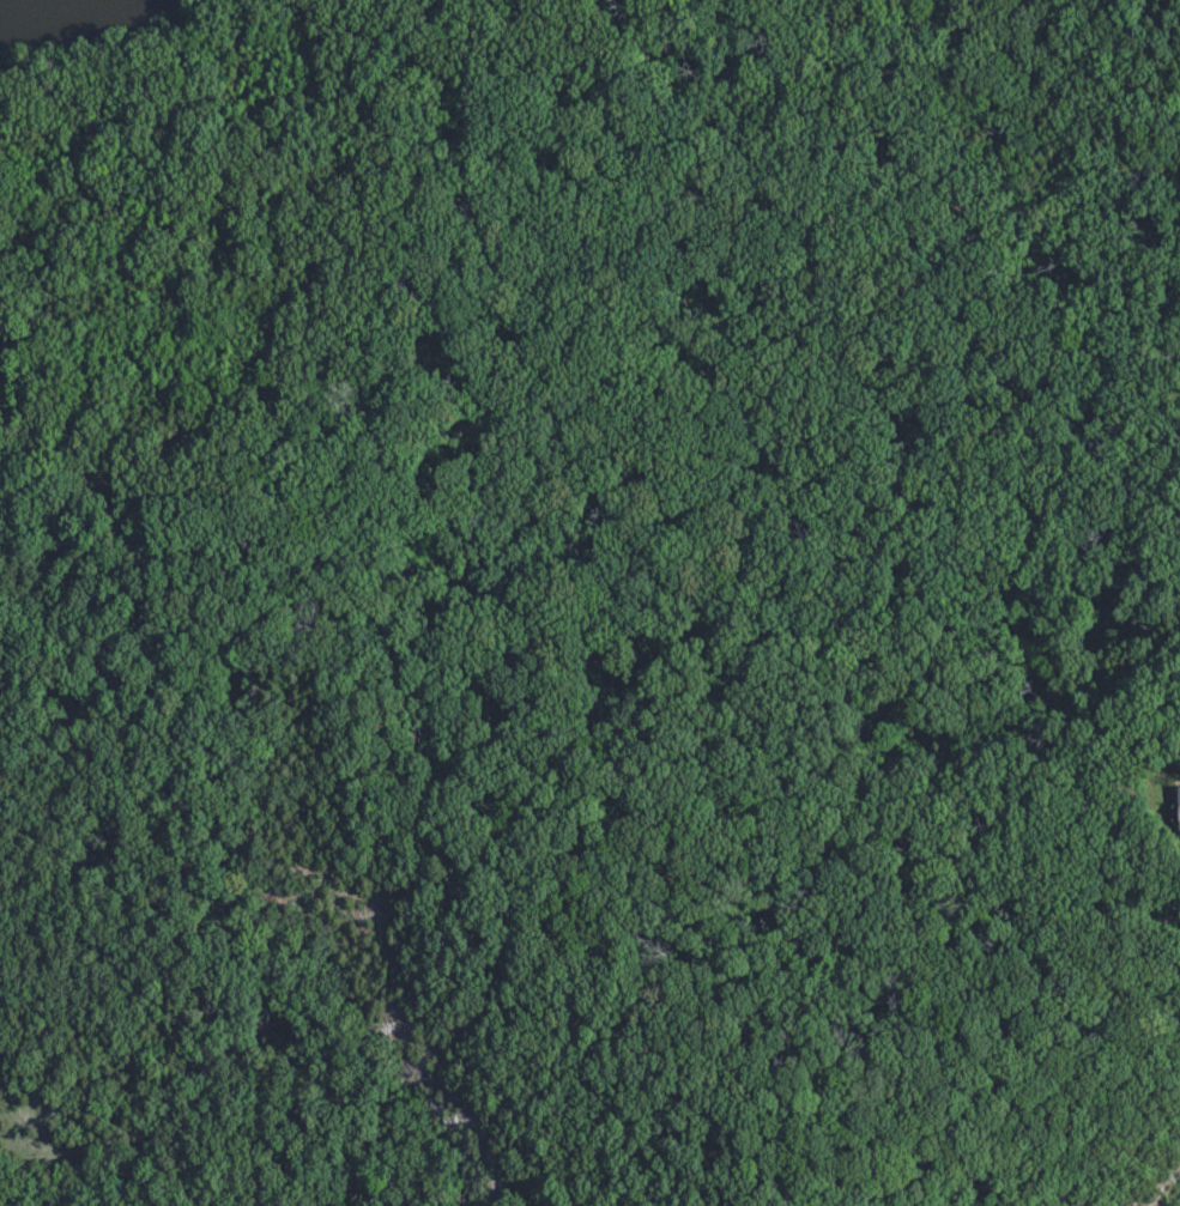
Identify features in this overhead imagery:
building: (1179, 814)

